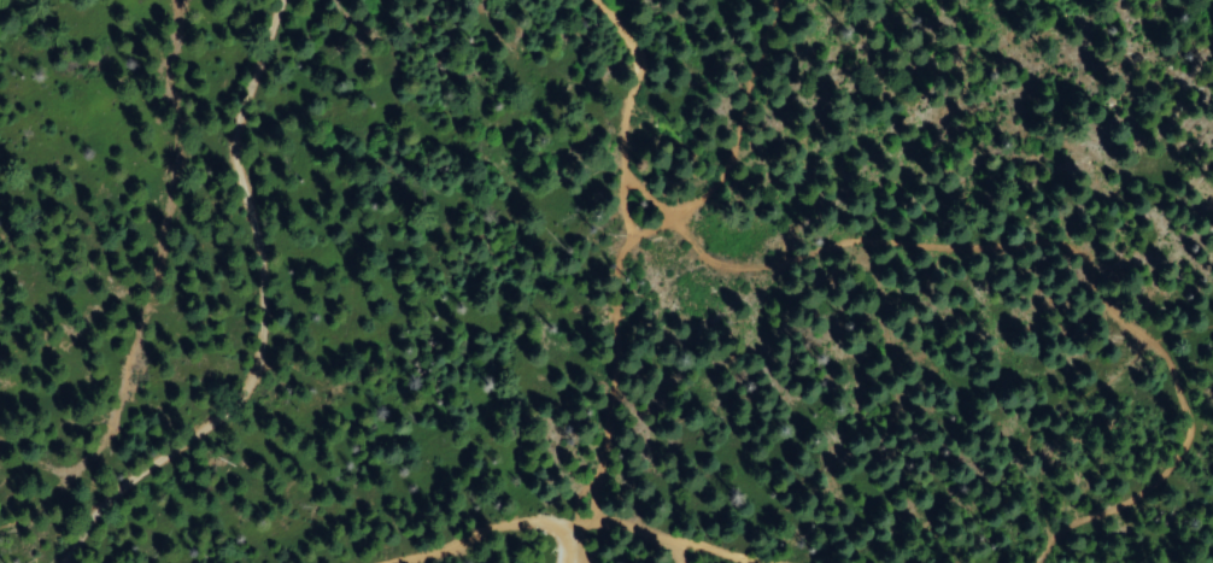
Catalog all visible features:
road: (269, 319)
road: (498, 533)
road: (579, 536)
road: (681, 541)
road: (693, 556)

